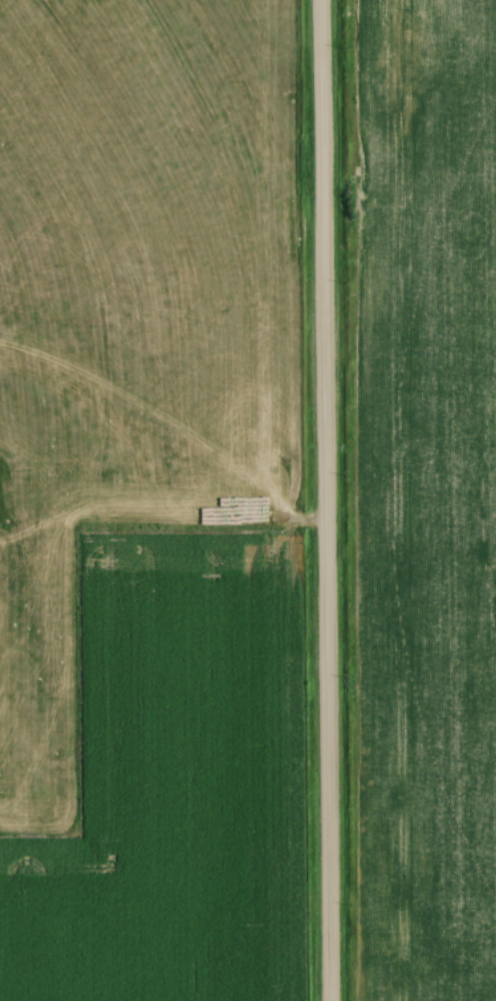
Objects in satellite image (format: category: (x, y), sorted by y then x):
road: (319, 500)

